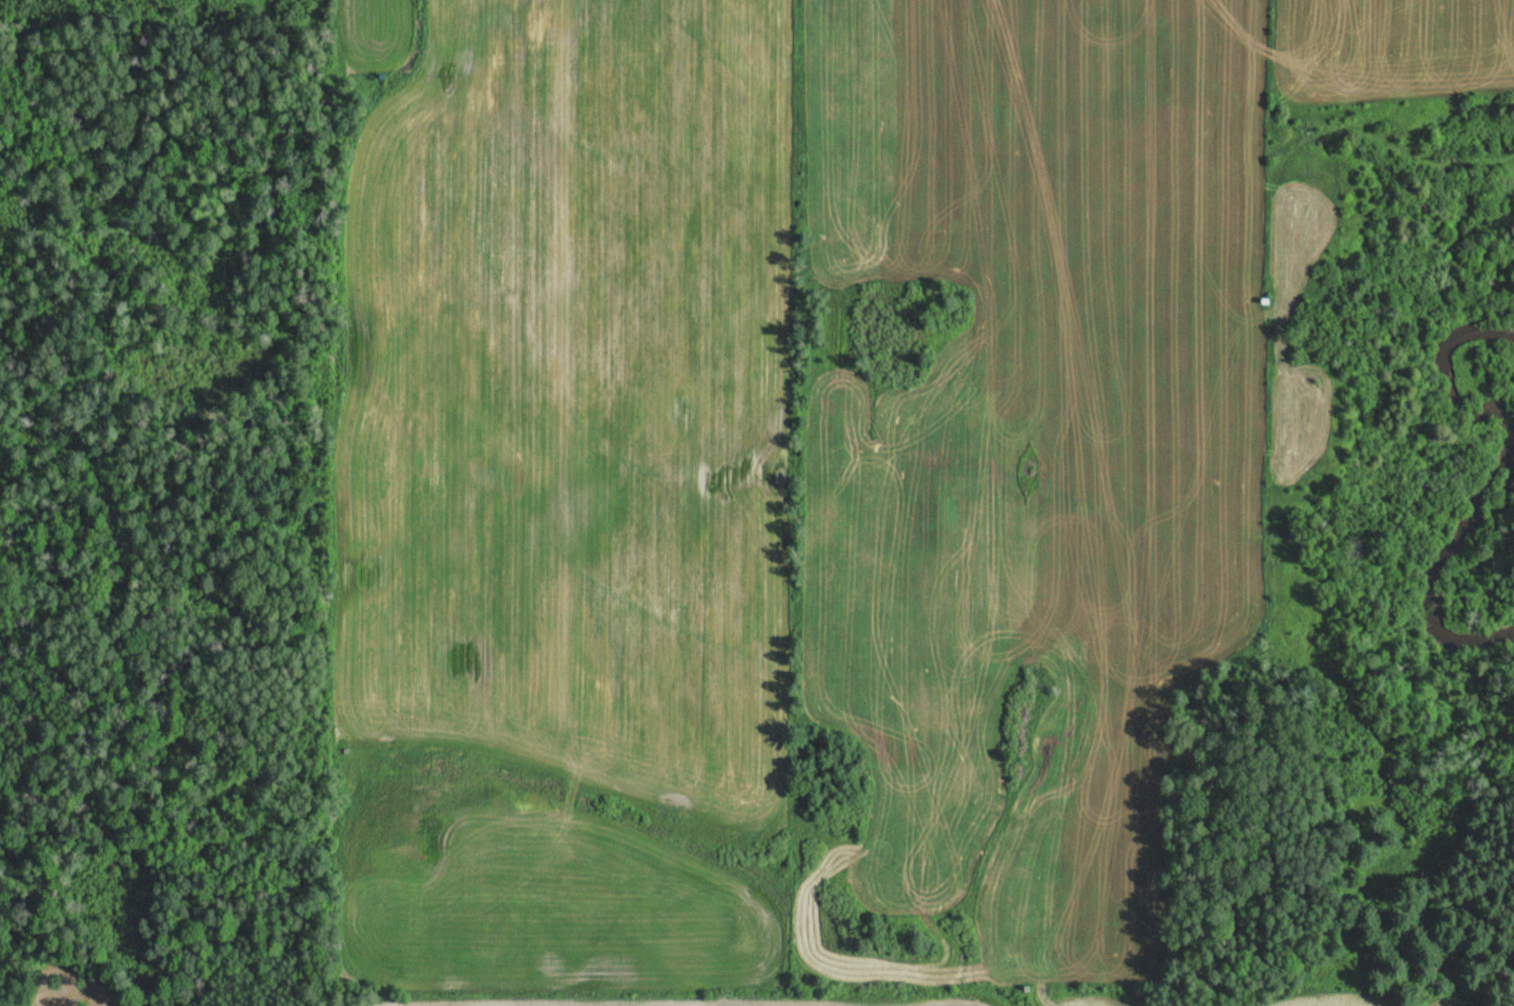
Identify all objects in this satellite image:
river: (1447, 372)
river: (1439, 564)

